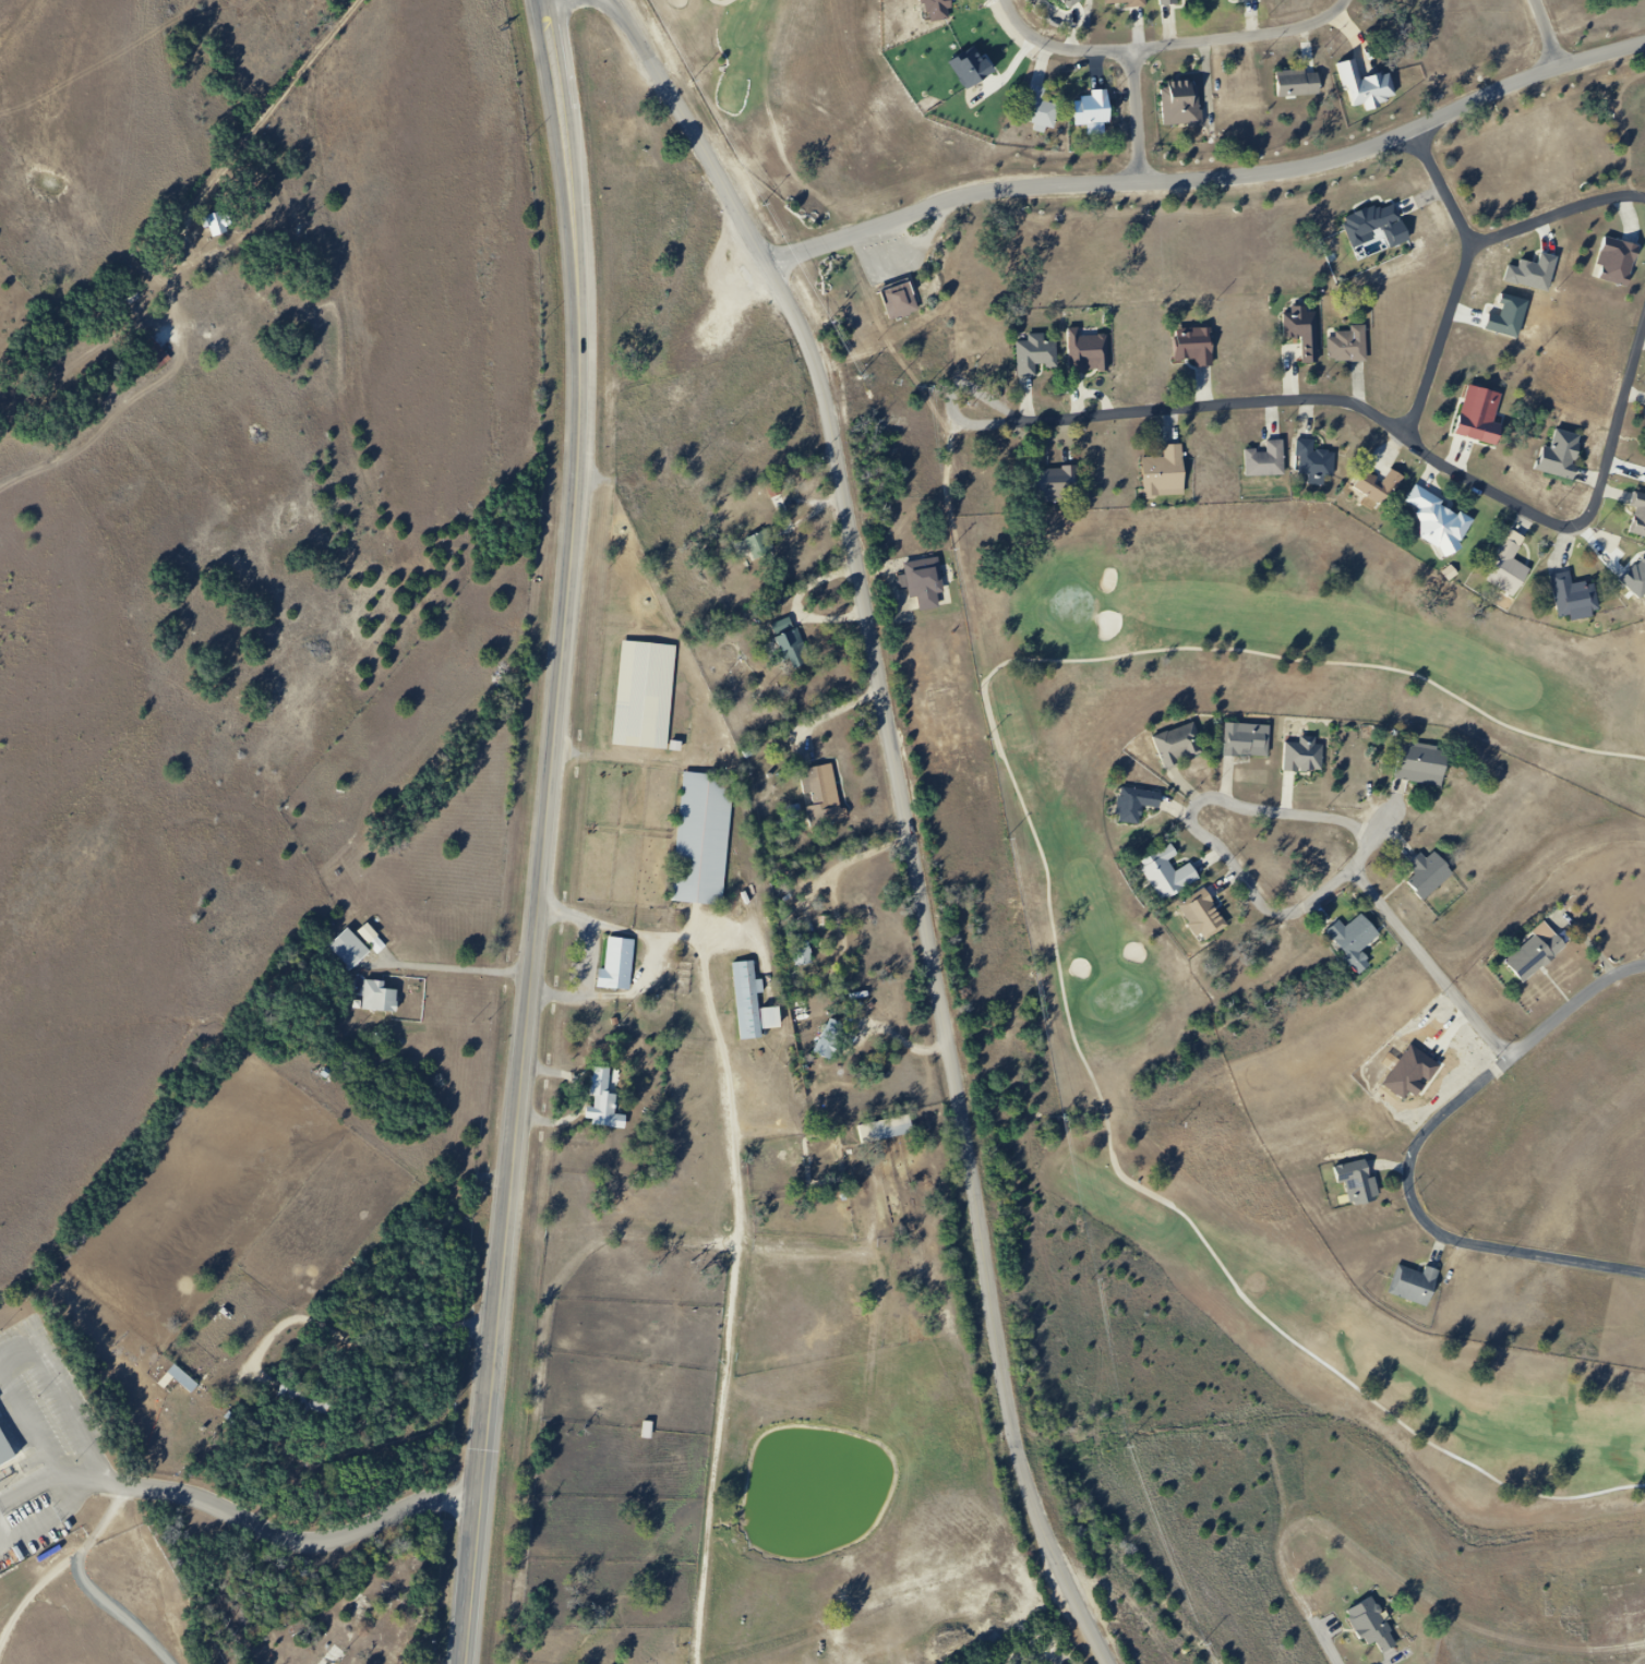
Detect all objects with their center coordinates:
building: (1050, 0)
building: (1256, 0)
road: (723, 2)
building: (1072, 4)
building: (1133, 5)
building: (1174, 5)
road: (1545, 33)
road: (1174, 43)
building: (977, 73)
building: (1305, 88)
building: (1372, 92)
building: (1186, 111)
road: (1143, 112)
building: (1044, 113)
building: (1098, 114)
road: (254, 124)
road: (1215, 179)
road: (1557, 214)
building: (208, 221)
building: (1369, 222)
building: (1616, 261)
building: (906, 302)
building: (1302, 331)
building: (1346, 345)
building: (1193, 346)
building: (1035, 353)
road: (1360, 403)
building: (1479, 415)
building: (1560, 454)
building: (1265, 459)
building: (1312, 460)
building: (1164, 472)
building: (1054, 484)
building: (1388, 486)
building: (1638, 514)
building: (1438, 518)
road: (1565, 528)
building: (757, 545)
building: (1506, 569)
road: (568, 572)
building: (760, 577)
building: (920, 582)
building: (1574, 596)
park: (1071, 605)
building: (780, 640)
building: (650, 695)
park: (1299, 736)
building: (1250, 743)
building: (1184, 749)
building: (1310, 758)
building: (1427, 769)
building: (817, 797)
building: (1141, 809)
road: (909, 816)
road: (1298, 816)
building: (709, 839)
building: (1174, 879)
building: (1436, 880)
road: (1049, 905)
building: (1202, 915)
building: (1358, 944)
building: (1539, 955)
building: (353, 956)
building: (612, 965)
road: (459, 967)
park: (1117, 997)
building: (385, 1002)
building: (745, 1003)
building: (830, 1039)
building: (1414, 1078)
building: (597, 1100)
building: (890, 1129)
road: (1414, 1155)
building: (1364, 1182)
building: (1421, 1286)
building: (182, 1378)
road: (495, 1406)
building: (647, 1431)
building: (8, 1455)
road: (216, 1504)
building: (101, 1592)
building: (79, 1604)
building: (1376, 1627)
building: (48, 1633)
road: (1324, 1640)
building: (29, 1653)
building: (334, 1655)

